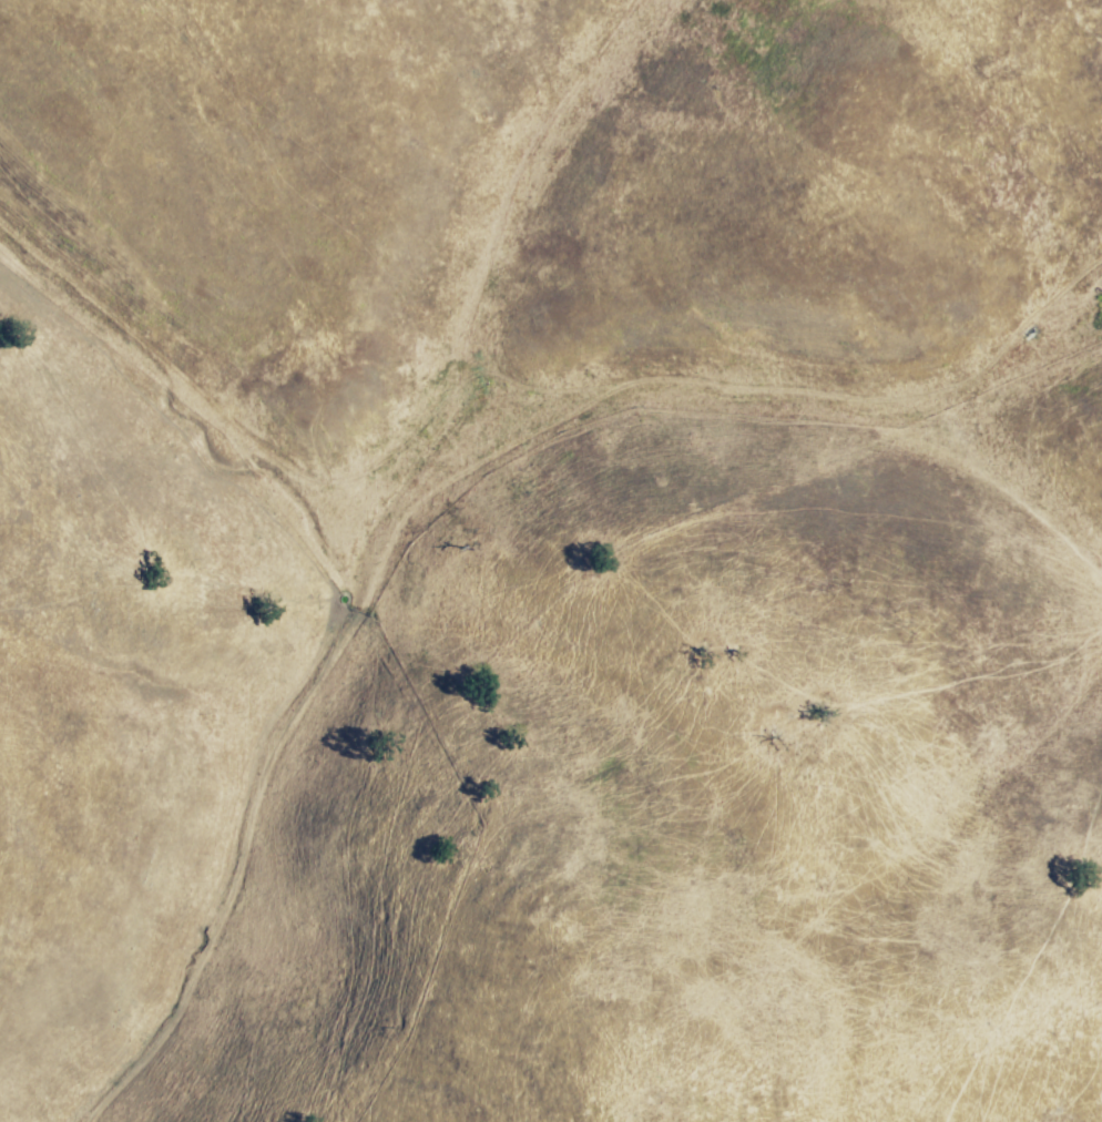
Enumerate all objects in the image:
road: (190, 395)
road: (433, 493)

